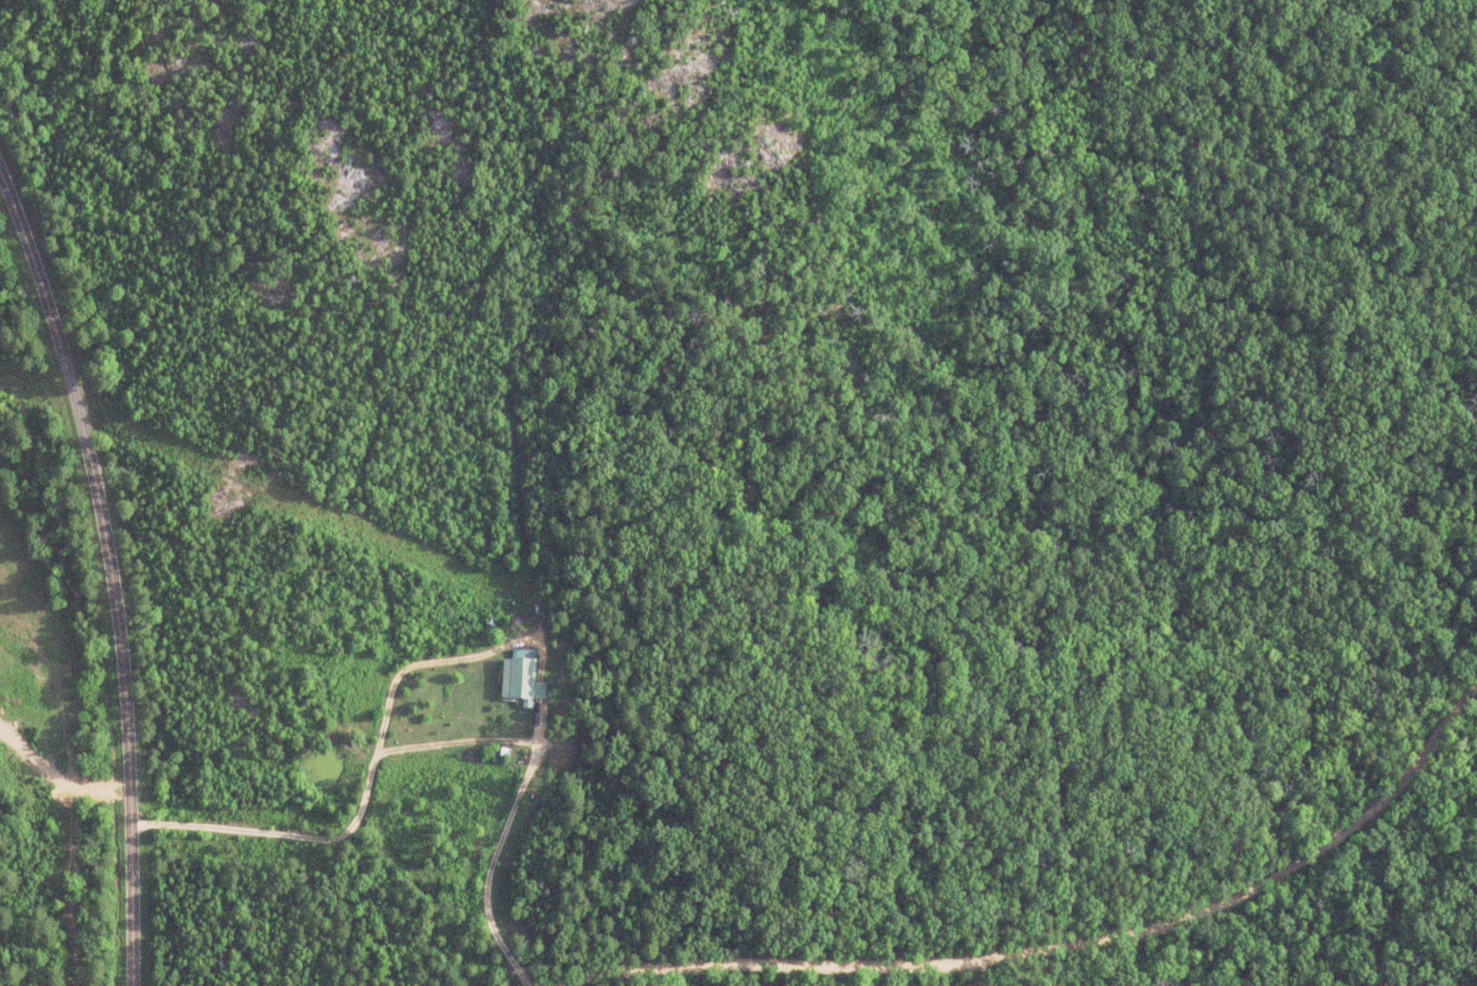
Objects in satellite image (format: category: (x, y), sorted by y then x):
road: (111, 570)
building: (523, 680)
road: (1041, 946)

